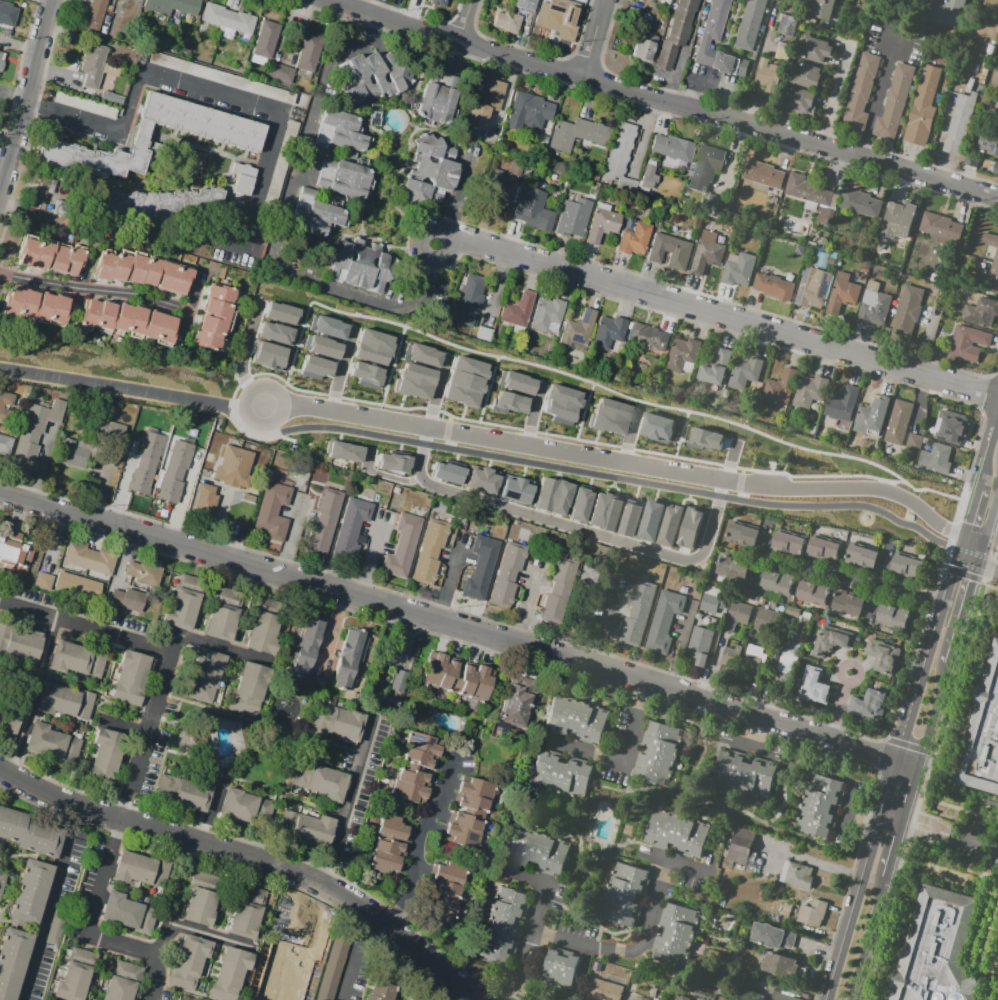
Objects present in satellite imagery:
building: (436, 2)
building: (526, 5)
building: (172, 7)
building: (824, 9)
building: (946, 13)
building: (92, 14)
building: (9, 15)
road: (465, 19)
building: (226, 22)
building: (556, 22)
building: (509, 24)
building: (752, 25)
building: (786, 26)
building: (678, 32)
road: (592, 37)
building: (263, 40)
building: (719, 43)
building: (643, 48)
building: (307, 51)
building: (818, 52)
building: (1, 58)
building: (94, 66)
building: (277, 73)
building: (218, 77)
building: (769, 77)
building: (106, 78)
building: (375, 78)
building: (810, 78)
road: (708, 84)
road: (189, 86)
road: (25, 90)
building: (476, 93)
building: (862, 95)
road: (836, 96)
building: (438, 98)
road: (663, 98)
road: (10, 99)
road: (877, 100)
building: (895, 104)
building: (801, 105)
building: (485, 107)
building: (925, 107)
building: (534, 112)
building: (997, 116)
building: (960, 124)
building: (340, 132)
building: (580, 135)
building: (988, 144)
building: (247, 146)
building: (674, 149)
building: (972, 161)
building: (622, 163)
building: (996, 167)
building: (707, 168)
building: (429, 170)
building: (764, 175)
building: (649, 178)
building: (274, 180)
building: (344, 180)
building: (243, 182)
building: (501, 190)
building: (807, 191)
building: (861, 203)
building: (718, 206)
building: (154, 207)
building: (533, 214)
building: (318, 215)
building: (572, 219)
building: (898, 221)
road: (279, 224)
building: (603, 226)
building: (943, 228)
building: (990, 238)
building: (635, 240)
building: (671, 253)
building: (707, 257)
building: (49, 258)
building: (357, 266)
building: (741, 272)
building: (143, 273)
building: (987, 280)
road: (97, 288)
building: (814, 288)
building: (776, 289)
building: (843, 297)
building: (467, 302)
building: (34, 306)
building: (517, 310)
building: (874, 310)
road: (308, 311)
building: (280, 313)
building: (909, 313)
road: (717, 314)
building: (982, 314)
building: (547, 317)
building: (214, 318)
building: (127, 321)
building: (328, 327)
building: (577, 330)
building: (608, 332)
building: (275, 333)
building: (645, 337)
building: (969, 345)
building: (322, 347)
building: (372, 347)
building: (680, 354)
building: (267, 355)
building: (422, 355)
road: (245, 356)
road: (394, 364)
building: (313, 367)
building: (713, 369)
road: (343, 370)
building: (744, 372)
building: (364, 374)
road: (252, 378)
building: (414, 381)
building: (464, 381)
building: (516, 382)
building: (776, 387)
road: (492, 389)
building: (807, 391)
building: (508, 402)
building: (560, 404)
building: (6, 406)
building: (840, 406)
road: (587, 411)
road: (537, 413)
building: (608, 416)
building: (869, 419)
building: (942, 423)
building: (897, 424)
building: (656, 427)
road: (683, 433)
building: (39, 434)
building: (112, 435)
road: (633, 438)
building: (704, 438)
building: (912, 441)
building: (5, 447)
road: (986, 449)
building: (79, 452)
road: (476, 452)
building: (346, 454)
building: (933, 457)
road: (618, 462)
building: (147, 464)
building: (394, 464)
road: (733, 464)
building: (236, 469)
building: (448, 473)
building: (176, 474)
building: (481, 482)
building: (516, 490)
building: (546, 493)
building: (561, 497)
building: (207, 499)
building: (580, 501)
building: (604, 512)
building: (273, 514)
road: (539, 517)
building: (630, 518)
building: (650, 520)
road: (964, 521)
building: (325, 522)
building: (669, 524)
building: (689, 528)
road: (988, 528)
building: (353, 530)
building: (742, 536)
road: (289, 540)
building: (787, 544)
building: (404, 547)
building: (10, 548)
building: (823, 550)
building: (431, 554)
building: (860, 557)
building: (90, 559)
road: (976, 562)
road: (367, 567)
building: (729, 568)
building: (907, 568)
building: (482, 569)
building: (146, 574)
building: (508, 577)
road: (446, 580)
road: (864, 581)
building: (45, 582)
building: (778, 583)
building: (79, 586)
road: (971, 586)
building: (557, 592)
building: (812, 593)
road: (526, 598)
building: (712, 600)
building: (128, 601)
building: (586, 601)
building: (185, 604)
building: (849, 605)
building: (793, 611)
building: (638, 614)
building: (223, 615)
building: (737, 617)
building: (892, 618)
building: (767, 623)
building: (664, 624)
building: (264, 627)
road: (458, 632)
road: (956, 637)
building: (830, 638)
road: (331, 639)
building: (21, 646)
building: (697, 646)
road: (212, 647)
building: (306, 647)
road: (168, 651)
building: (397, 651)
building: (884, 653)
building: (729, 655)
building: (78, 661)
building: (755, 661)
building: (349, 662)
building: (786, 670)
building: (206, 676)
building: (132, 678)
building: (458, 679)
building: (813, 687)
building: (251, 692)
building: (66, 703)
building: (518, 703)
building: (870, 705)
road: (839, 706)
road: (933, 716)
building: (9, 720)
building: (577, 720)
building: (337, 723)
building: (983, 735)
building: (54, 745)
building: (659, 755)
building: (104, 756)
road: (623, 759)
building: (416, 770)
building: (745, 774)
building: (562, 776)
road: (888, 776)
building: (319, 782)
road: (912, 788)
building: (184, 794)
road: (349, 803)
building: (820, 807)
building: (246, 808)
road: (905, 811)
building: (470, 813)
road: (923, 819)
road: (888, 826)
building: (305, 830)
building: (28, 834)
building: (679, 834)
road: (931, 836)
road: (419, 843)
building: (391, 846)
road: (980, 846)
building: (742, 847)
road: (894, 847)
building: (538, 852)
road: (253, 856)
building: (130, 869)
building: (159, 869)
building: (799, 878)
building: (2, 881)
building: (30, 891)
building: (444, 891)
building: (625, 896)
road: (52, 904)
building: (197, 906)
building: (117, 911)
building: (814, 915)
road: (91, 916)
building: (242, 920)
building: (287, 925)
building: (505, 925)
building: (311, 928)
road: (530, 934)
building: (676, 935)
road: (219, 936)
building: (773, 937)
road: (867, 940)
building: (937, 949)
road: (627, 950)
road: (353, 957)
building: (13, 961)
road: (164, 961)
building: (187, 962)
building: (333, 967)
building: (779, 967)
building: (561, 969)
building: (227, 974)
building: (76, 975)
building: (291, 978)
building: (121, 981)
building: (382, 987)
building: (605, 991)
building: (776, 994)
building: (285, 997)
building: (680, 997)
road: (261, 999)
building: (269, 999)
building: (641, 999)

